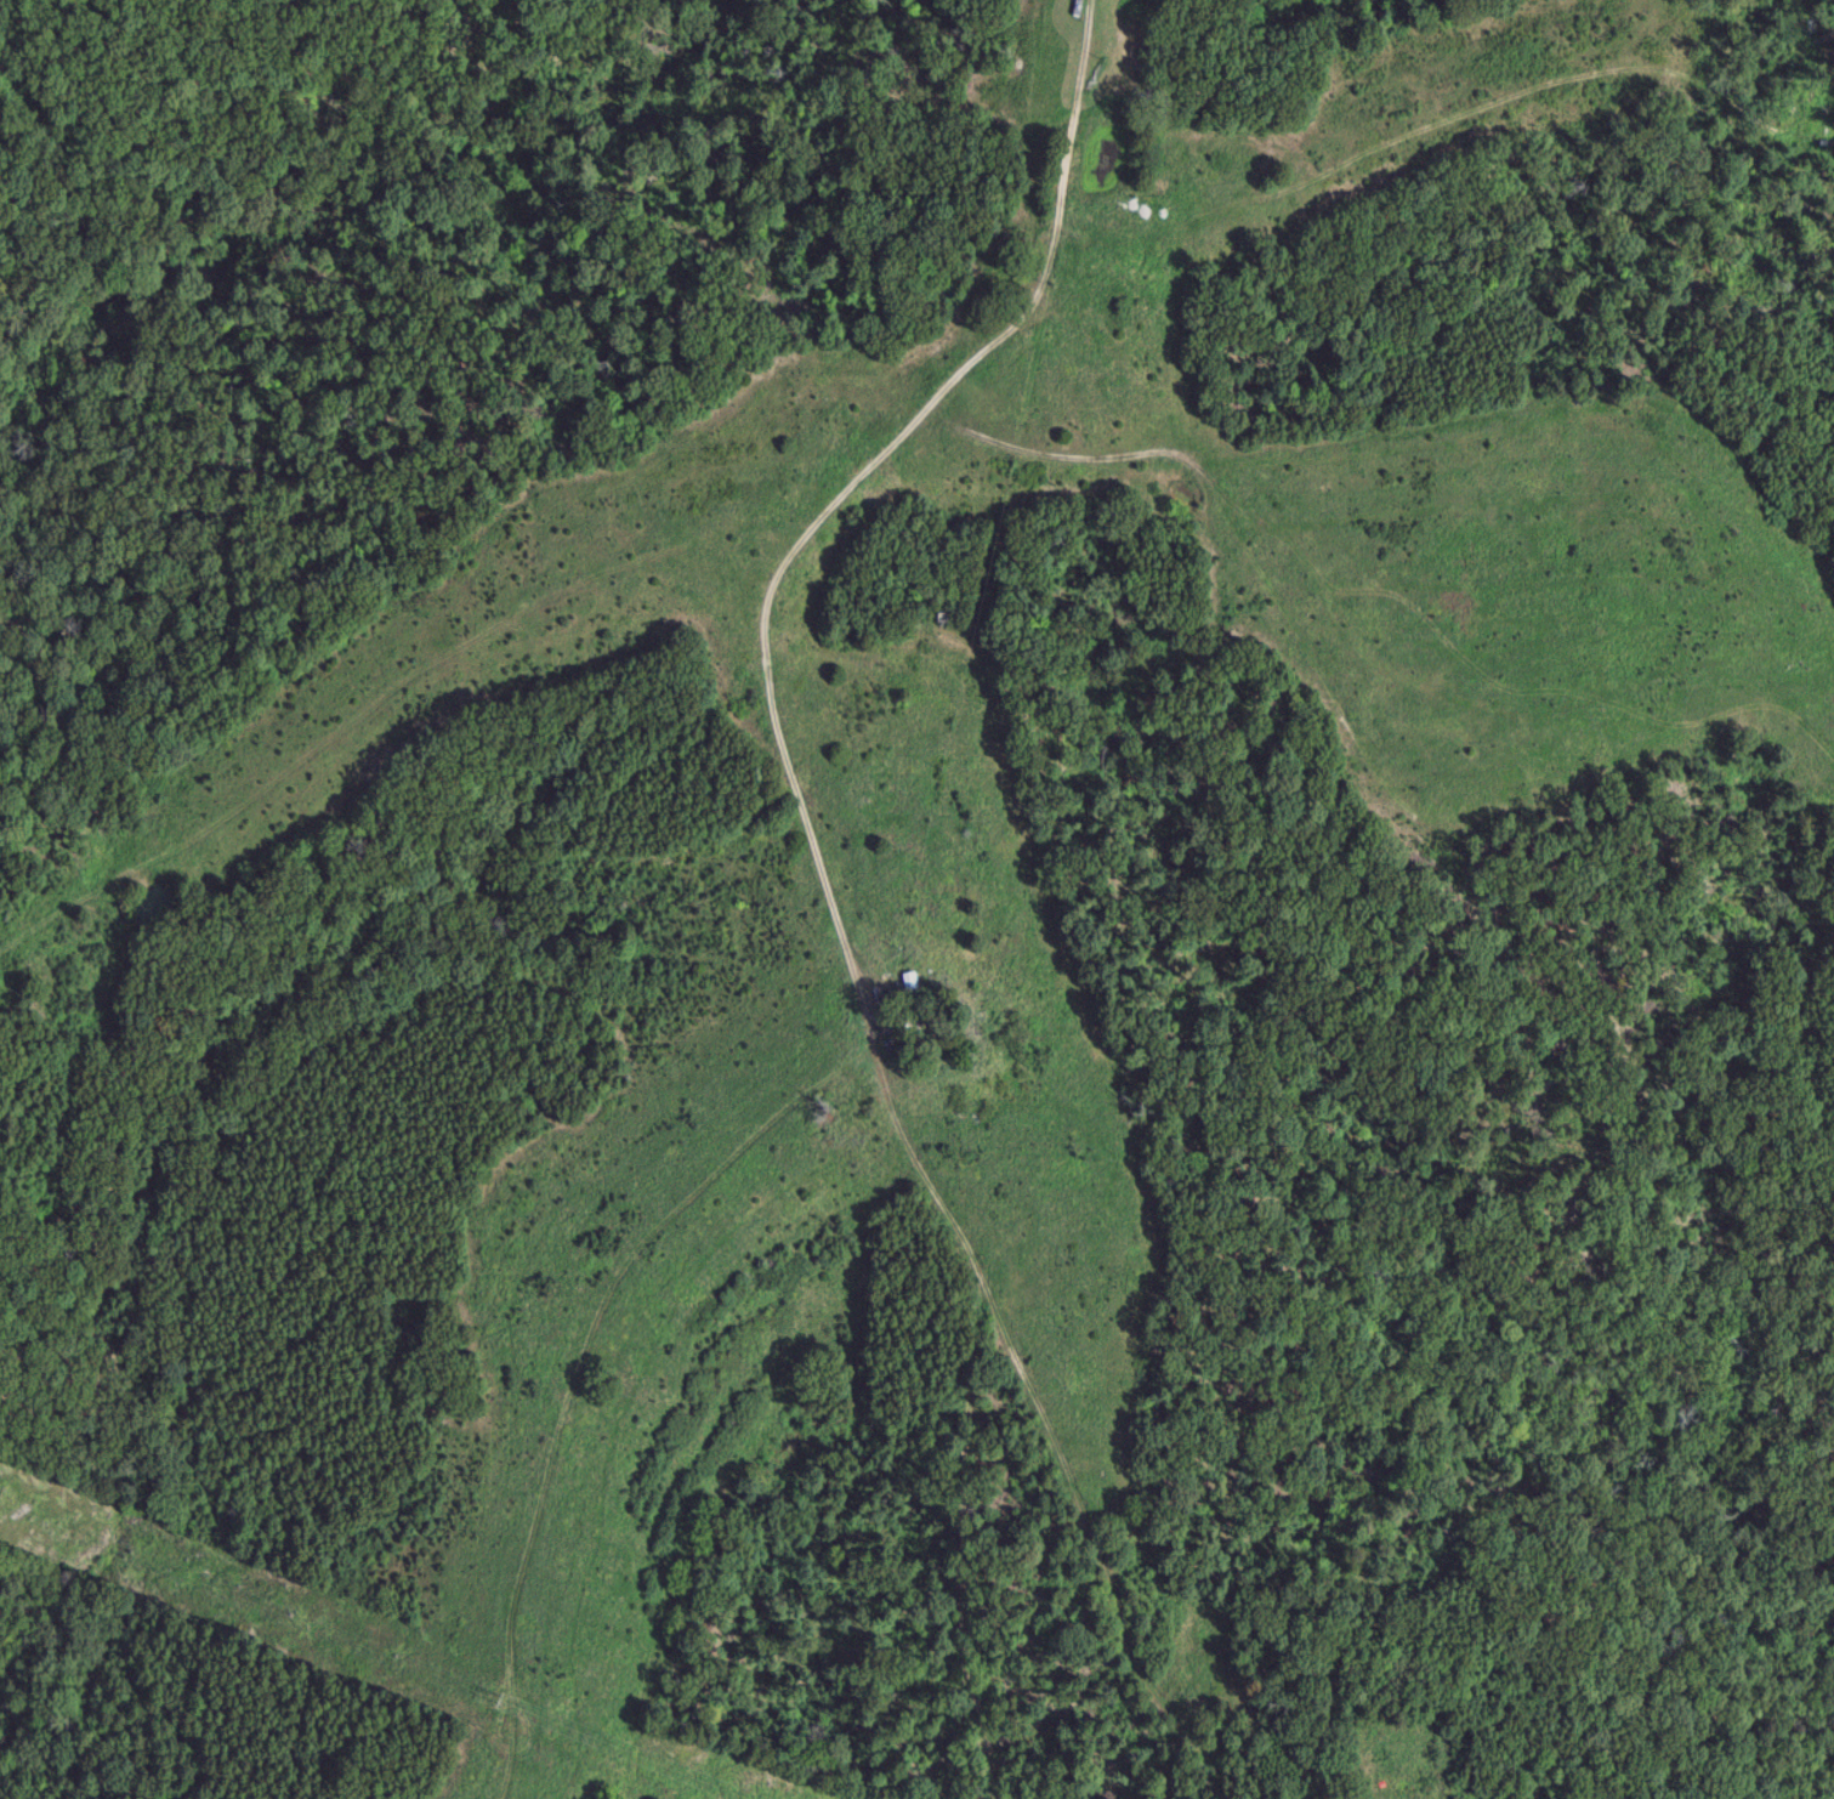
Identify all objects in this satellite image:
road: (881, 464)
road: (577, 1332)
power tower: (499, 1697)

